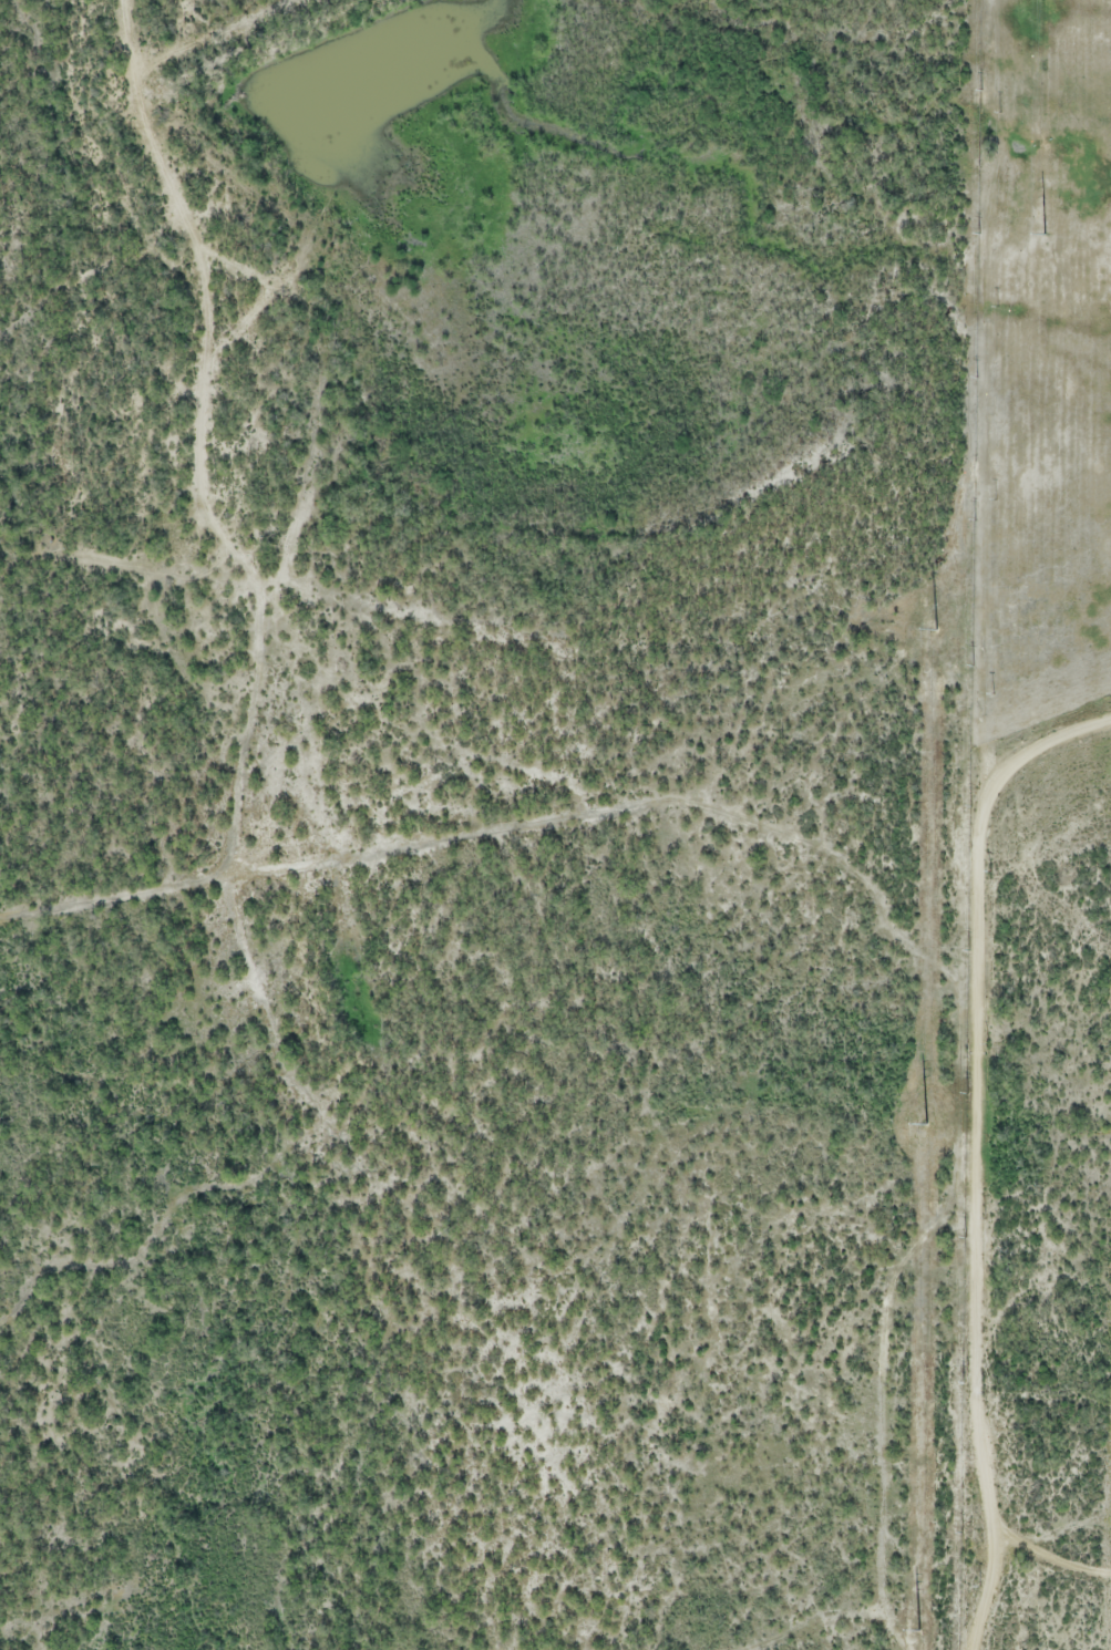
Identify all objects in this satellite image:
power tower: (1045, 237)
road: (1089, 412)
road: (1067, 616)
power tower: (938, 627)
power tower: (929, 1122)
road: (966, 1133)
power tower: (920, 1630)

